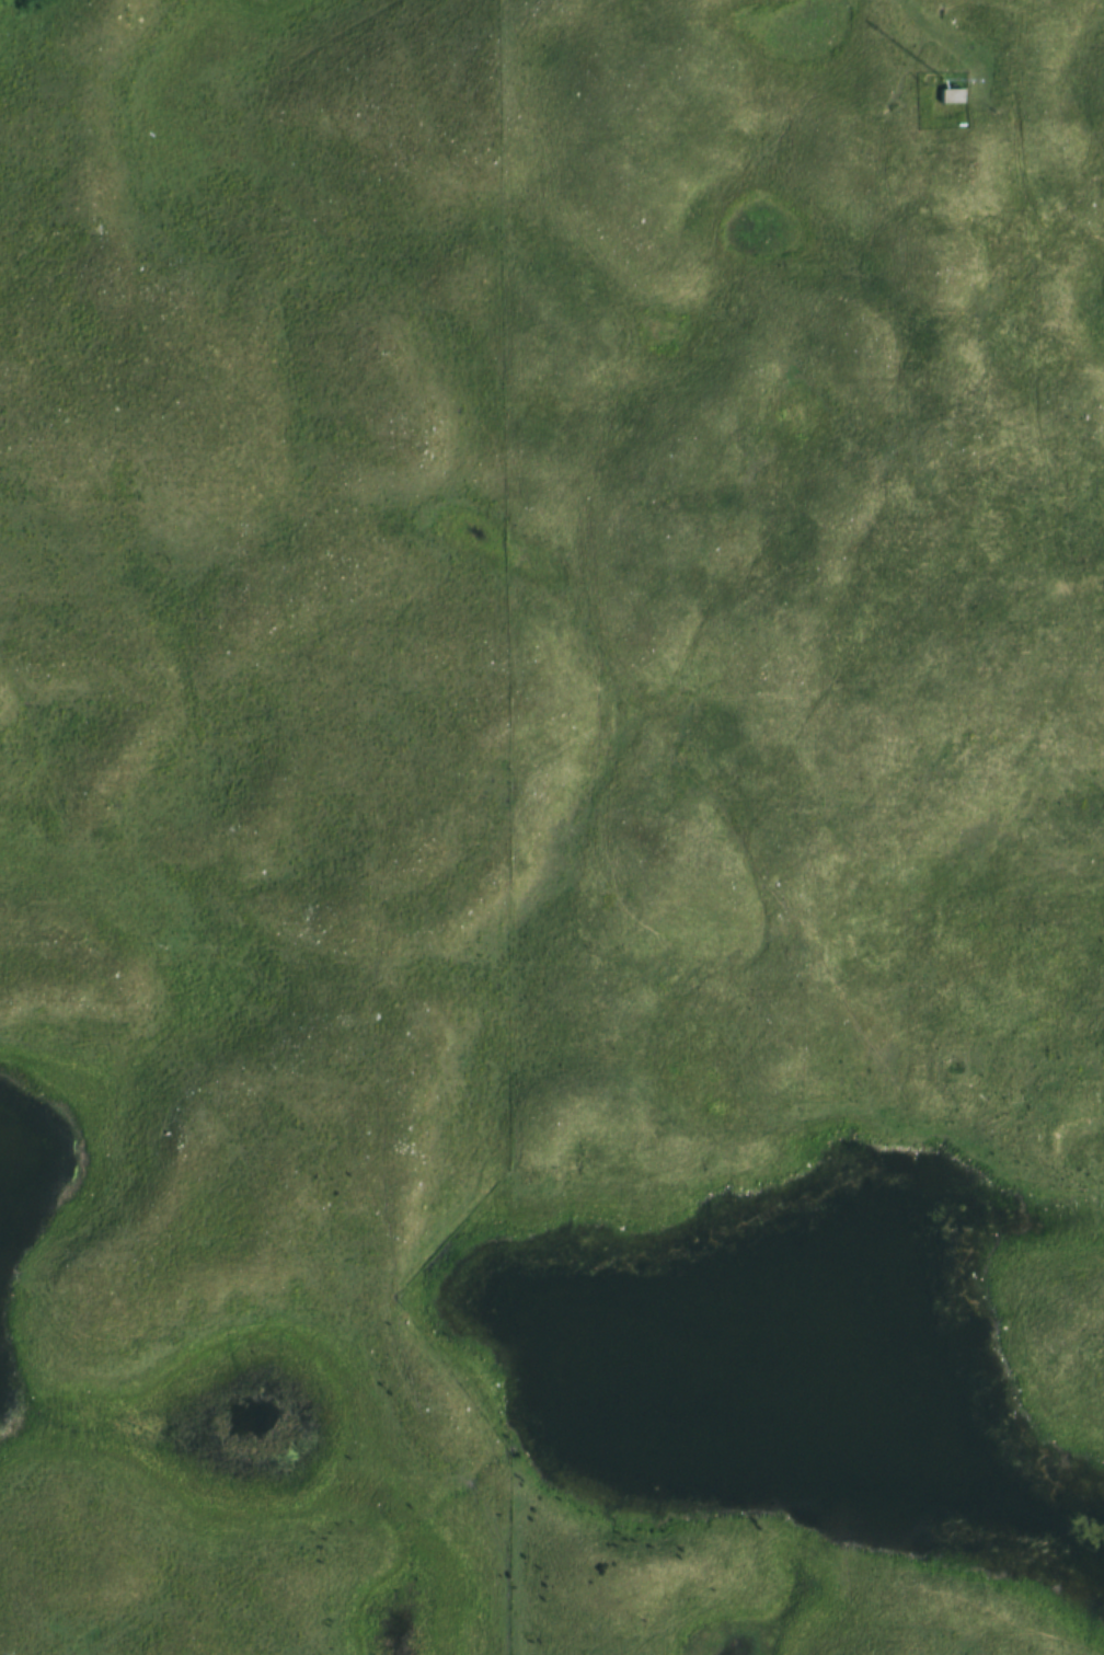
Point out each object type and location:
building: (948, 95)

